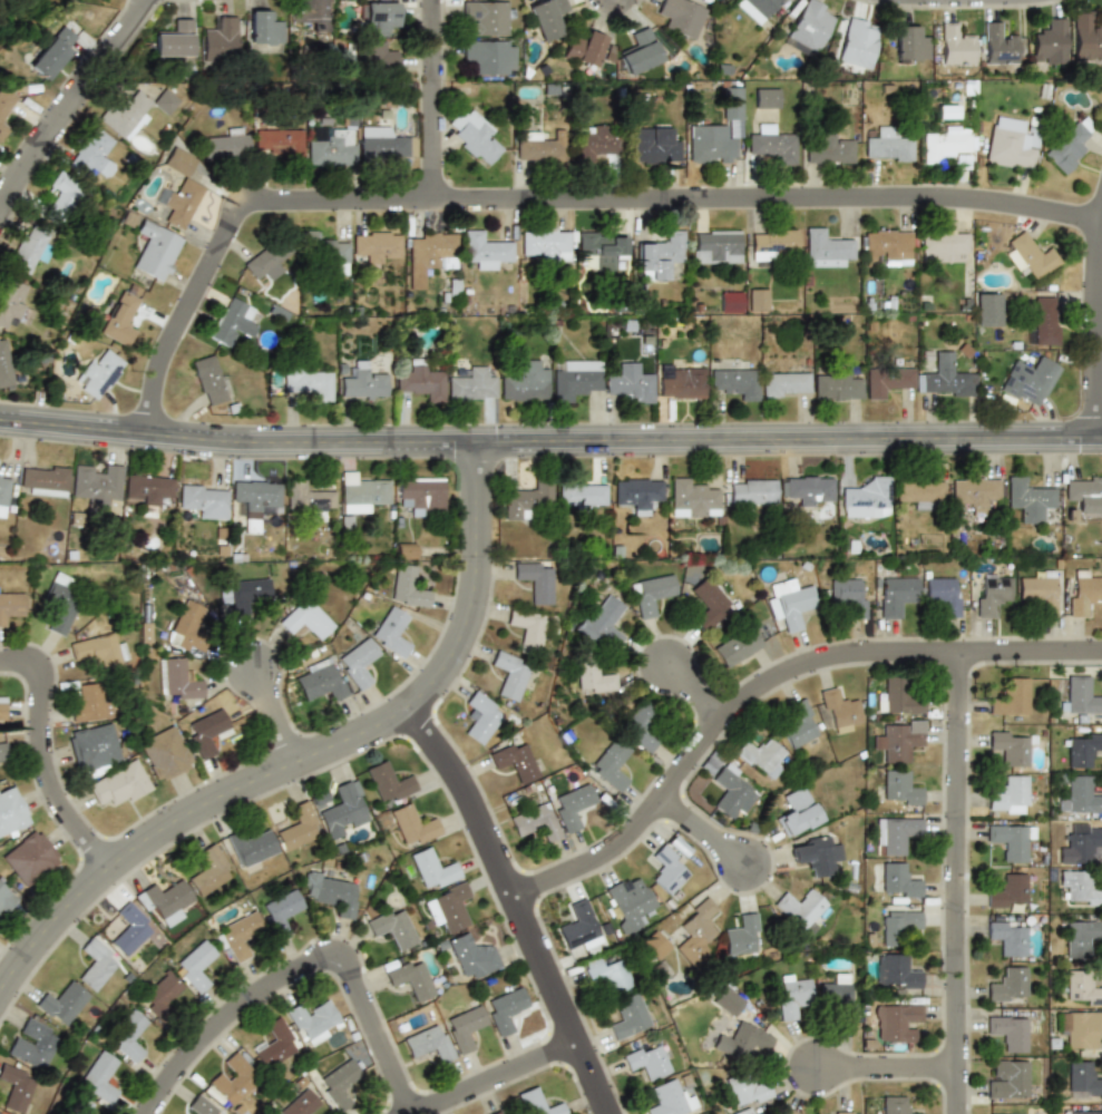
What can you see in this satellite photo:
building: (755, 8)
building: (309, 13)
building: (376, 17)
building: (547, 17)
building: (681, 17)
building: (484, 18)
building: (809, 25)
building: (263, 28)
building: (1086, 36)
building: (218, 38)
building: (173, 40)
building: (856, 42)
building: (953, 42)
building: (1046, 42)
building: (907, 43)
building: (996, 43)
building: (583, 47)
building: (638, 52)
building: (51, 53)
building: (377, 55)
building: (488, 56)
road: (71, 97)
building: (764, 98)
building: (165, 101)
road: (431, 102)
building: (730, 102)
building: (7, 105)
building: (124, 114)
building: (470, 135)
building: (276, 141)
building: (379, 141)
building: (593, 141)
building: (226, 144)
building: (710, 144)
building: (942, 144)
building: (1006, 144)
building: (771, 145)
building: (885, 145)
building: (1065, 145)
building: (536, 147)
building: (331, 148)
building: (653, 148)
building: (828, 149)
building: (92, 153)
building: (179, 189)
building: (62, 196)
road: (556, 207)
building: (770, 243)
building: (544, 244)
building: (943, 245)
building: (714, 246)
building: (887, 246)
building: (29, 247)
building: (372, 247)
building: (601, 248)
building: (825, 248)
building: (485, 251)
building: (155, 252)
building: (323, 253)
building: (1031, 254)
building: (427, 255)
building: (660, 255)
building: (264, 263)
building: (757, 299)
building: (730, 302)
building: (11, 303)
building: (120, 315)
building: (1045, 320)
building: (231, 322)
road: (1099, 335)
building: (4, 365)
building: (98, 372)
building: (574, 378)
building: (209, 379)
building: (945, 379)
building: (420, 380)
building: (887, 380)
building: (309, 381)
building: (1028, 381)
building: (362, 382)
building: (631, 382)
building: (677, 382)
building: (735, 382)
building: (524, 383)
building: (835, 384)
building: (471, 385)
building: (784, 385)
road: (550, 442)
building: (42, 479)
building: (97, 485)
building: (146, 488)
building: (809, 489)
building: (918, 489)
building: (750, 491)
building: (360, 492)
building: (974, 492)
building: (1083, 492)
building: (638, 494)
building: (254, 495)
building: (421, 495)
building: (582, 495)
building: (3, 496)
building: (306, 498)
building: (865, 498)
building: (204, 499)
building: (526, 499)
building: (691, 499)
building: (1027, 499)
building: (406, 550)
building: (536, 580)
building: (406, 586)
building: (1082, 590)
building: (1037, 592)
building: (651, 594)
building: (989, 594)
building: (895, 595)
building: (939, 595)
building: (246, 596)
building: (847, 596)
building: (11, 602)
building: (60, 602)
building: (706, 603)
building: (790, 603)
building: (305, 619)
building: (602, 622)
building: (189, 627)
building: (527, 628)
building: (391, 632)
building: (735, 646)
building: (97, 649)
building: (358, 662)
building: (592, 672)
building: (509, 675)
road: (760, 677)
building: (177, 678)
building: (320, 680)
road: (693, 695)
building: (1010, 696)
building: (1079, 696)
building: (896, 697)
building: (88, 702)
building: (2, 709)
building: (837, 710)
building: (479, 717)
building: (797, 721)
road: (282, 726)
building: (640, 726)
building: (206, 732)
building: (895, 740)
building: (94, 746)
building: (1007, 747)
building: (1081, 749)
building: (3, 754)
building: (165, 754)
building: (759, 756)
building: (515, 760)
road: (48, 761)
building: (612, 763)
road: (315, 766)
building: (388, 782)
building: (119, 783)
building: (898, 788)
building: (730, 794)
building: (1006, 795)
building: (1079, 797)
building: (572, 805)
building: (344, 809)
building: (796, 811)
building: (11, 812)
building: (535, 822)
building: (411, 824)
building: (298, 827)
building: (895, 833)
road: (708, 841)
building: (1008, 841)
building: (1082, 844)
building: (252, 849)
building: (815, 856)
building: (29, 857)
building: (432, 869)
building: (666, 869)
building: (207, 871)
building: (898, 881)
road: (952, 882)
building: (1077, 887)
building: (1007, 891)
building: (332, 892)
building: (6, 900)
building: (164, 901)
building: (627, 902)
building: (800, 907)
building: (447, 908)
road: (520, 911)
building: (280, 912)
building: (898, 924)
building: (130, 928)
building: (392, 928)
building: (576, 928)
building: (695, 931)
building: (741, 935)
building: (1081, 936)
building: (237, 937)
building: (1008, 938)
building: (652, 944)
building: (471, 956)
building: (95, 965)
building: (195, 967)
building: (895, 970)
building: (606, 974)
road: (309, 977)
building: (410, 979)
building: (1004, 984)
building: (1083, 990)
building: (162, 991)
building: (792, 996)
building: (725, 998)
building: (838, 998)
building: (61, 1003)
building: (505, 1009)
building: (626, 1017)
building: (311, 1020)
building: (893, 1022)
building: (465, 1026)
building: (1080, 1027)
building: (1006, 1032)
building: (130, 1035)
building: (741, 1040)
building: (428, 1043)
building: (31, 1044)
building: (273, 1044)
building: (645, 1061)
road: (880, 1065)
building: (1079, 1076)
building: (100, 1077)
building: (232, 1077)
building: (1004, 1078)
road: (511, 1083)
building: (339, 1084)
building: (14, 1087)
building: (745, 1088)
building: (667, 1100)
building: (536, 1103)
building: (300, 1104)
building: (79, 1106)
building: (202, 1106)
building: (896, 1106)
building: (740, 1112)
building: (788, 1112)
building: (1080, 1112)
building: (0, 1113)
building: (495, 1113)
building: (839, 1113)

